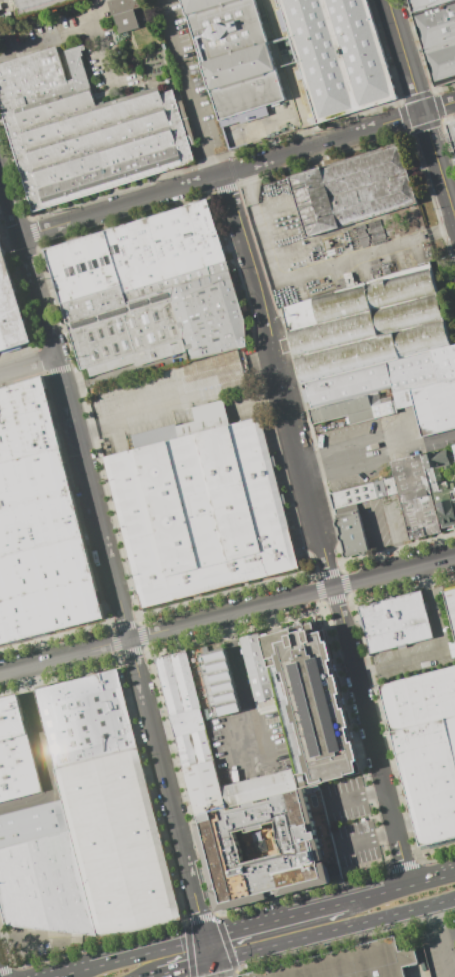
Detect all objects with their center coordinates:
building: (36, 5)
building: (122, 5)
building: (429, 5)
building: (125, 22)
building: (440, 40)
building: (233, 54)
building: (337, 55)
road: (402, 55)
road: (289, 82)
road: (187, 89)
road: (437, 105)
building: (85, 130)
building: (452, 133)
road: (437, 166)
road: (221, 177)
building: (352, 190)
road: (11, 201)
road: (312, 270)
building: (150, 293)
building: (10, 308)
building: (366, 324)
road: (29, 366)
building: (421, 369)
building: (348, 384)
road: (167, 406)
building: (431, 406)
building: (383, 409)
building: (344, 410)
road: (400, 442)
road: (429, 445)
building: (454, 449)
building: (440, 485)
building: (363, 493)
building: (415, 497)
building: (200, 507)
building: (40, 526)
road: (319, 530)
building: (351, 533)
road: (393, 541)
road: (117, 587)
building: (451, 606)
road: (227, 615)
building: (394, 622)
parking lot: (419, 648)
road: (443, 653)
building: (85, 718)
road: (226, 723)
building: (318, 735)
building: (425, 749)
building: (15, 753)
road: (44, 759)
road: (354, 792)
building: (32, 824)
road: (370, 826)
road: (356, 844)
building: (282, 855)
building: (93, 857)
road: (400, 888)
road: (276, 921)
road: (333, 930)
road: (448, 935)
traffic signals: (206, 940)
road: (441, 940)
parking lot: (440, 947)
road: (209, 951)
road: (136, 957)
traffic signals: (212, 962)
building: (348, 963)
road: (185, 969)
road: (213, 969)
road: (65, 976)
road: (157, 976)

